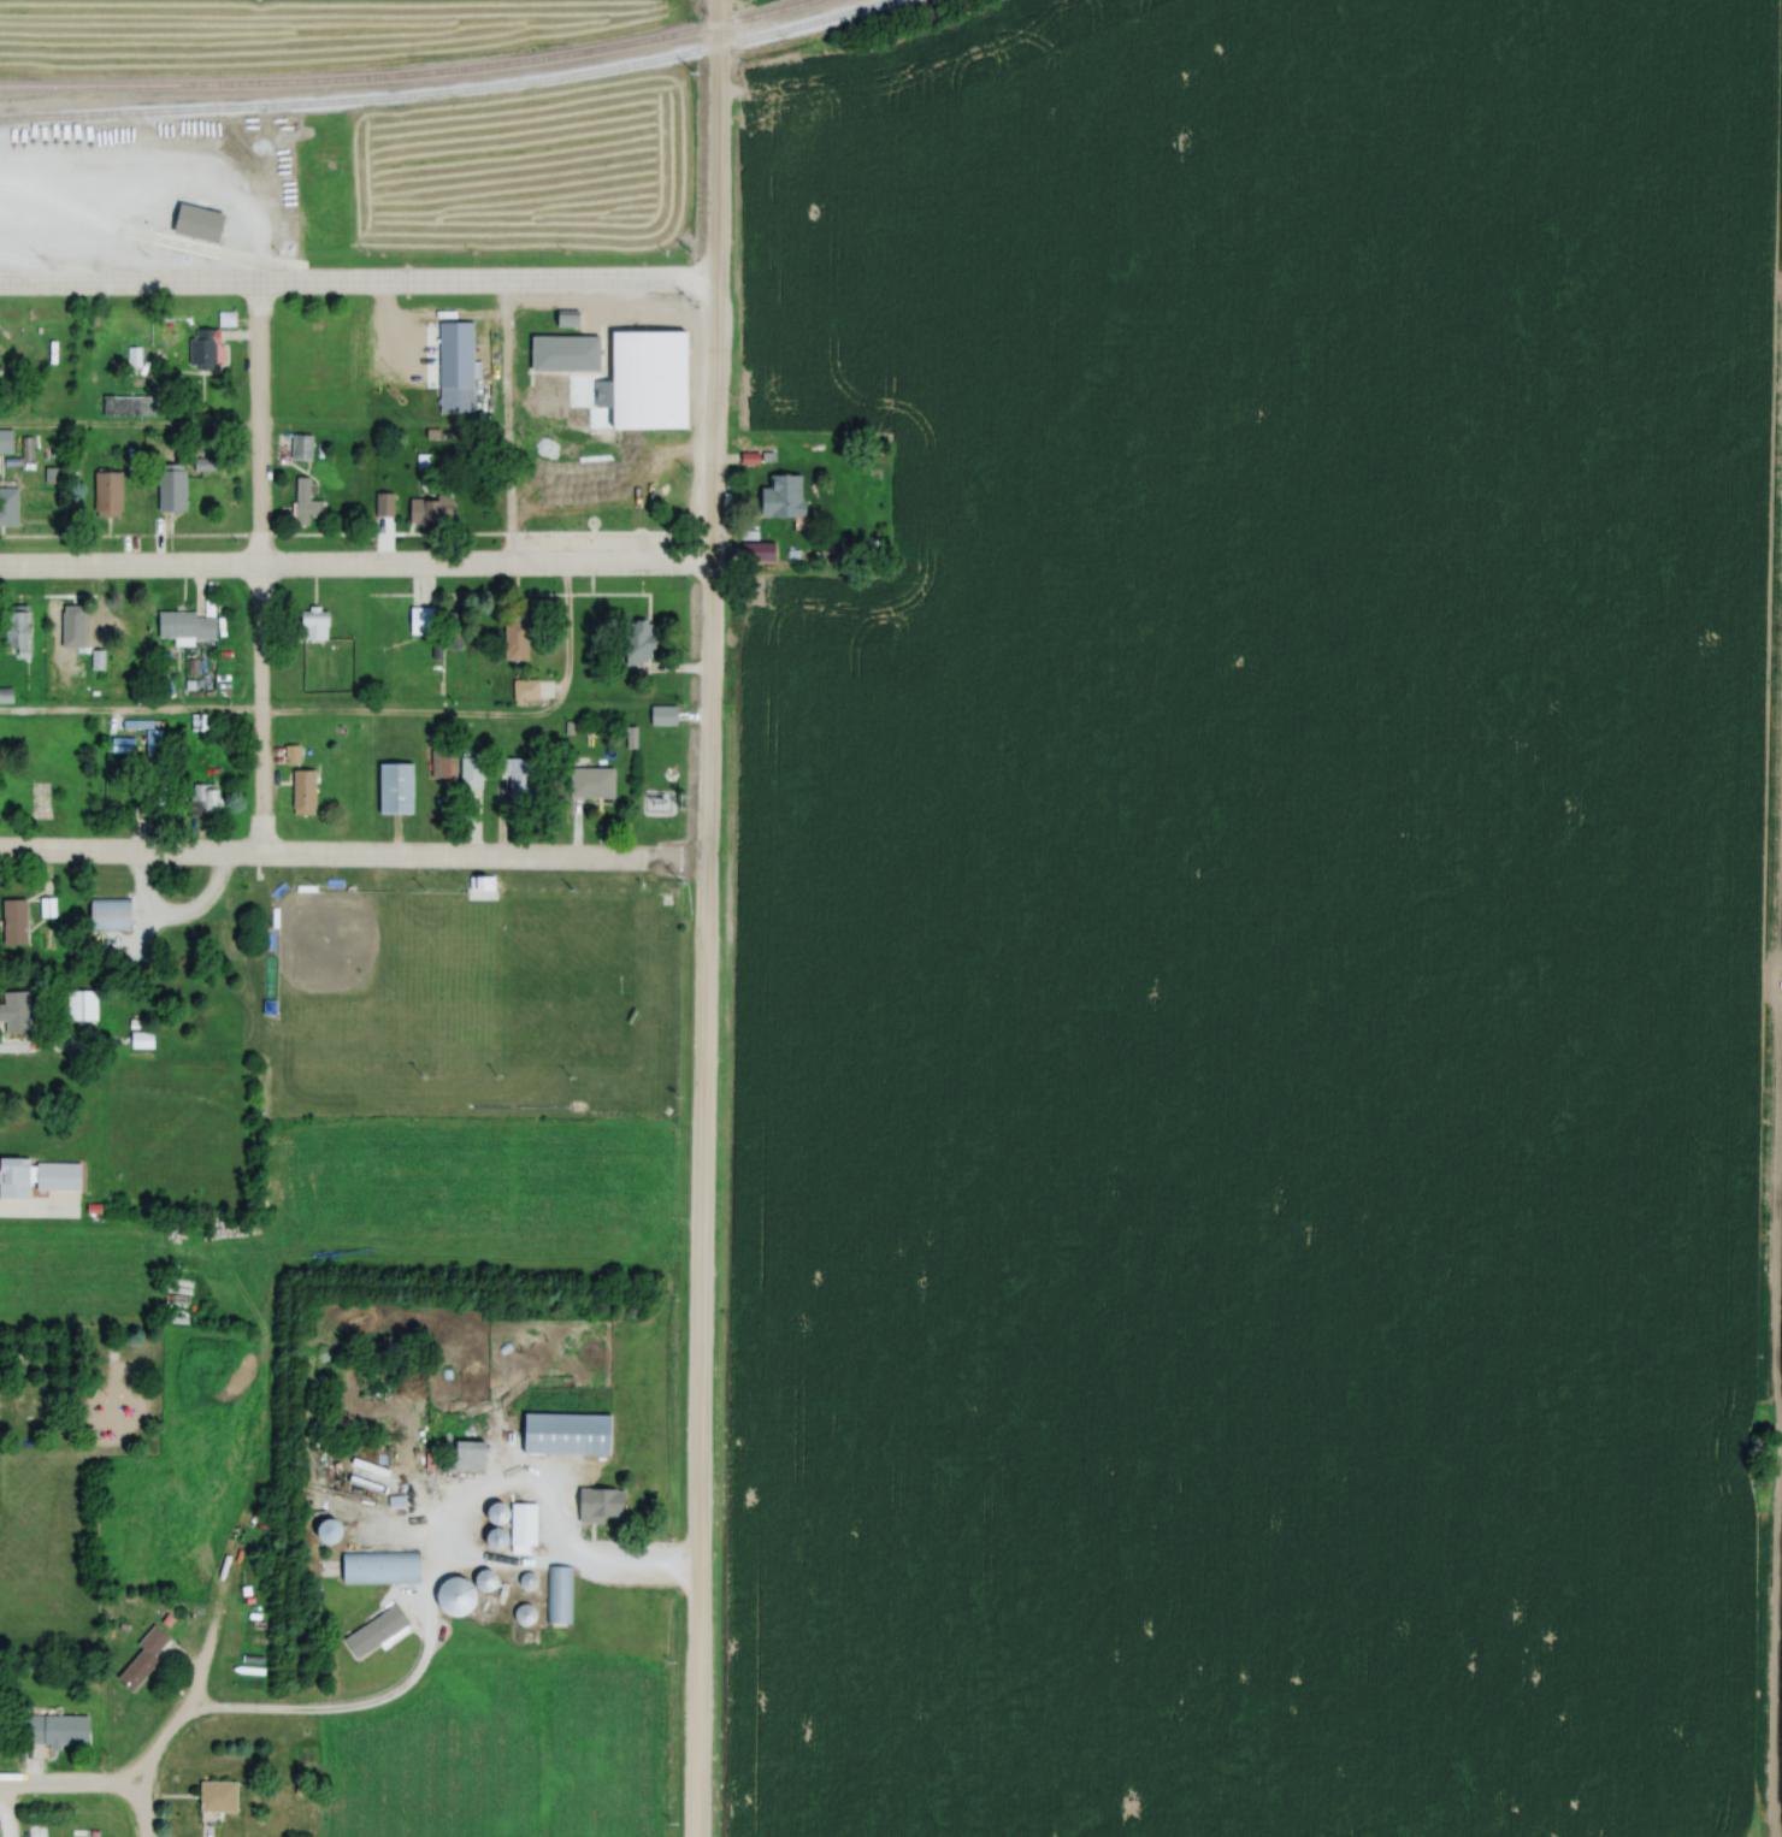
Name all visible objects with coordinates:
railway: (395, 71)
railway: (436, 89)
building: (183, 173)
building: (129, 175)
building: (237, 208)
road: (287, 211)
building: (315, 224)
road: (359, 288)
building: (202, 348)
building: (466, 398)
building: (128, 403)
building: (610, 404)
road: (509, 425)
road: (129, 430)
building: (5, 441)
building: (300, 448)
building: (171, 489)
building: (107, 494)
building: (783, 496)
building: (305, 502)
building: (383, 504)
building: (8, 506)
building: (426, 510)
road: (355, 563)
road: (258, 574)
building: (420, 621)
building: (184, 625)
building: (314, 625)
building: (72, 627)
building: (18, 631)
building: (515, 642)
building: (638, 642)
building: (524, 691)
road: (353, 715)
building: (661, 715)
building: (441, 761)
building: (471, 767)
building: (519, 778)
building: (590, 782)
building: (395, 787)
building: (302, 791)
building: (202, 798)
road: (353, 861)
building: (108, 911)
road: (706, 917)
building: (13, 921)
road: (175, 922)
building: (79, 1004)
building: (14, 1011)
building: (140, 1039)
building: (14, 1175)
building: (58, 1175)
building: (567, 1433)
building: (465, 1448)
building: (432, 1460)
building: (602, 1504)
building: (524, 1522)
building: (382, 1567)
building: (485, 1584)
building: (556, 1594)
building: (458, 1595)
building: (524, 1614)
road: (424, 1617)
building: (374, 1631)
building: (143, 1658)
building: (54, 1730)
road: (160, 1735)
road: (123, 1772)
road: (81, 1782)
building: (217, 1796)
road: (2, 1820)

